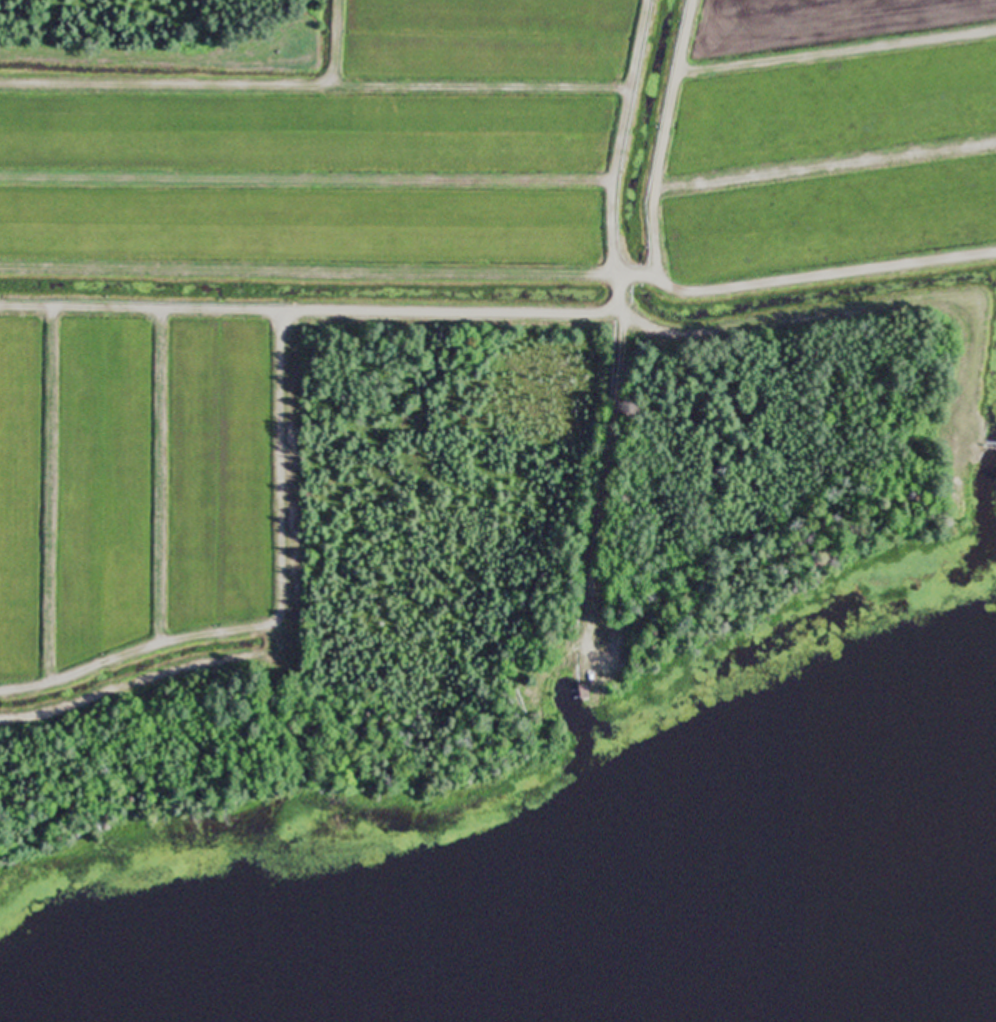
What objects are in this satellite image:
crop: (831, 136)
crop: (341, 149)
crop: (129, 483)
building: (583, 691)

